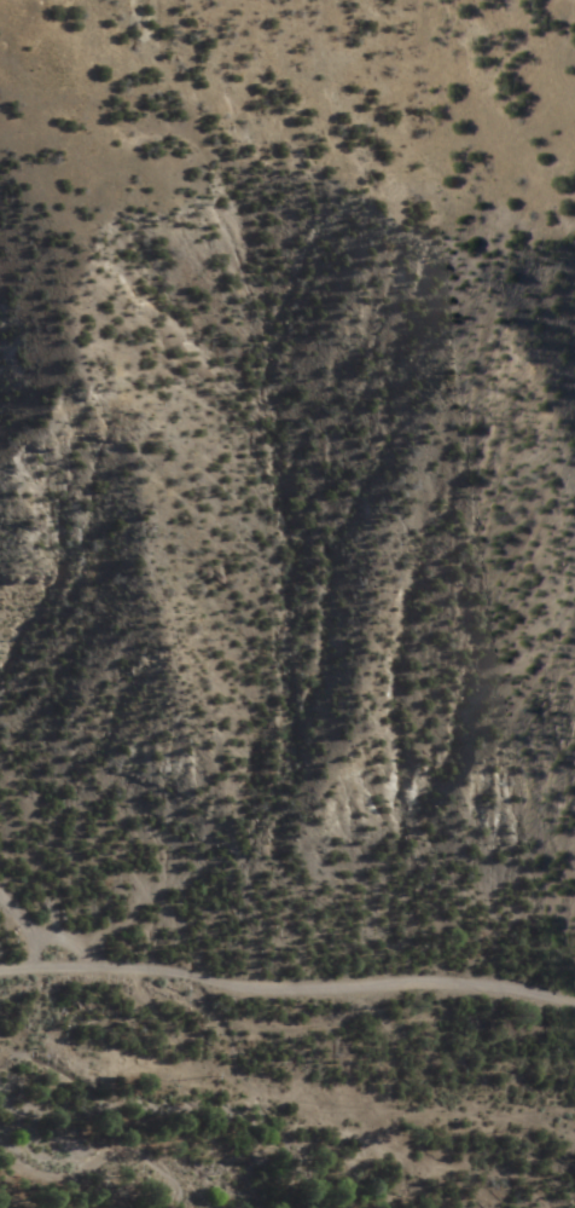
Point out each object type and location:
road: (287, 1019)

